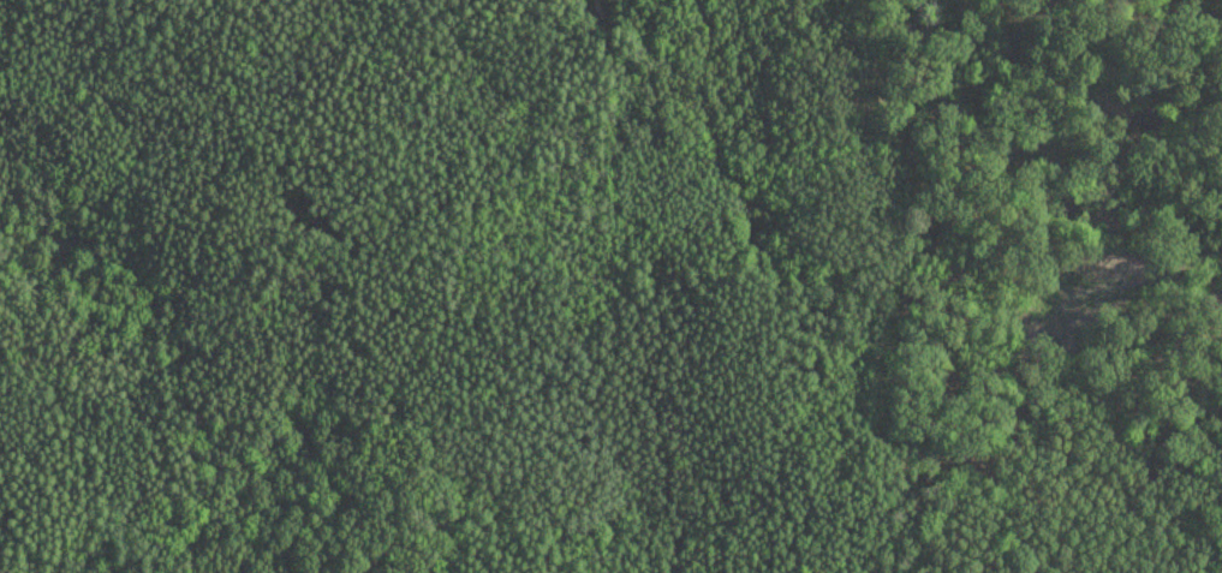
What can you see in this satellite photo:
road: (604, 11)
road: (640, 297)

